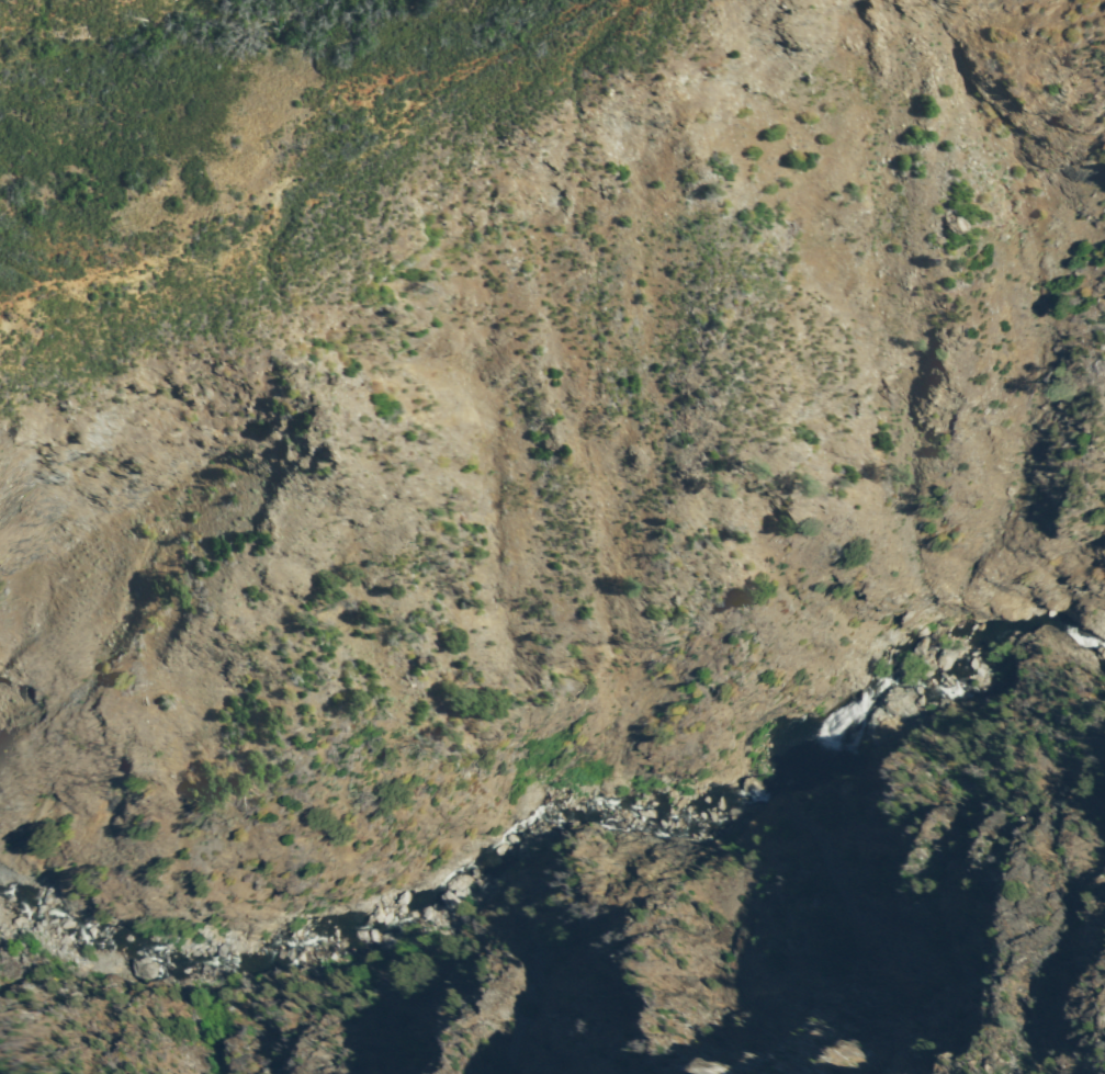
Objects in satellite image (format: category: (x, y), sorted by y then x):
river: (556, 821)

